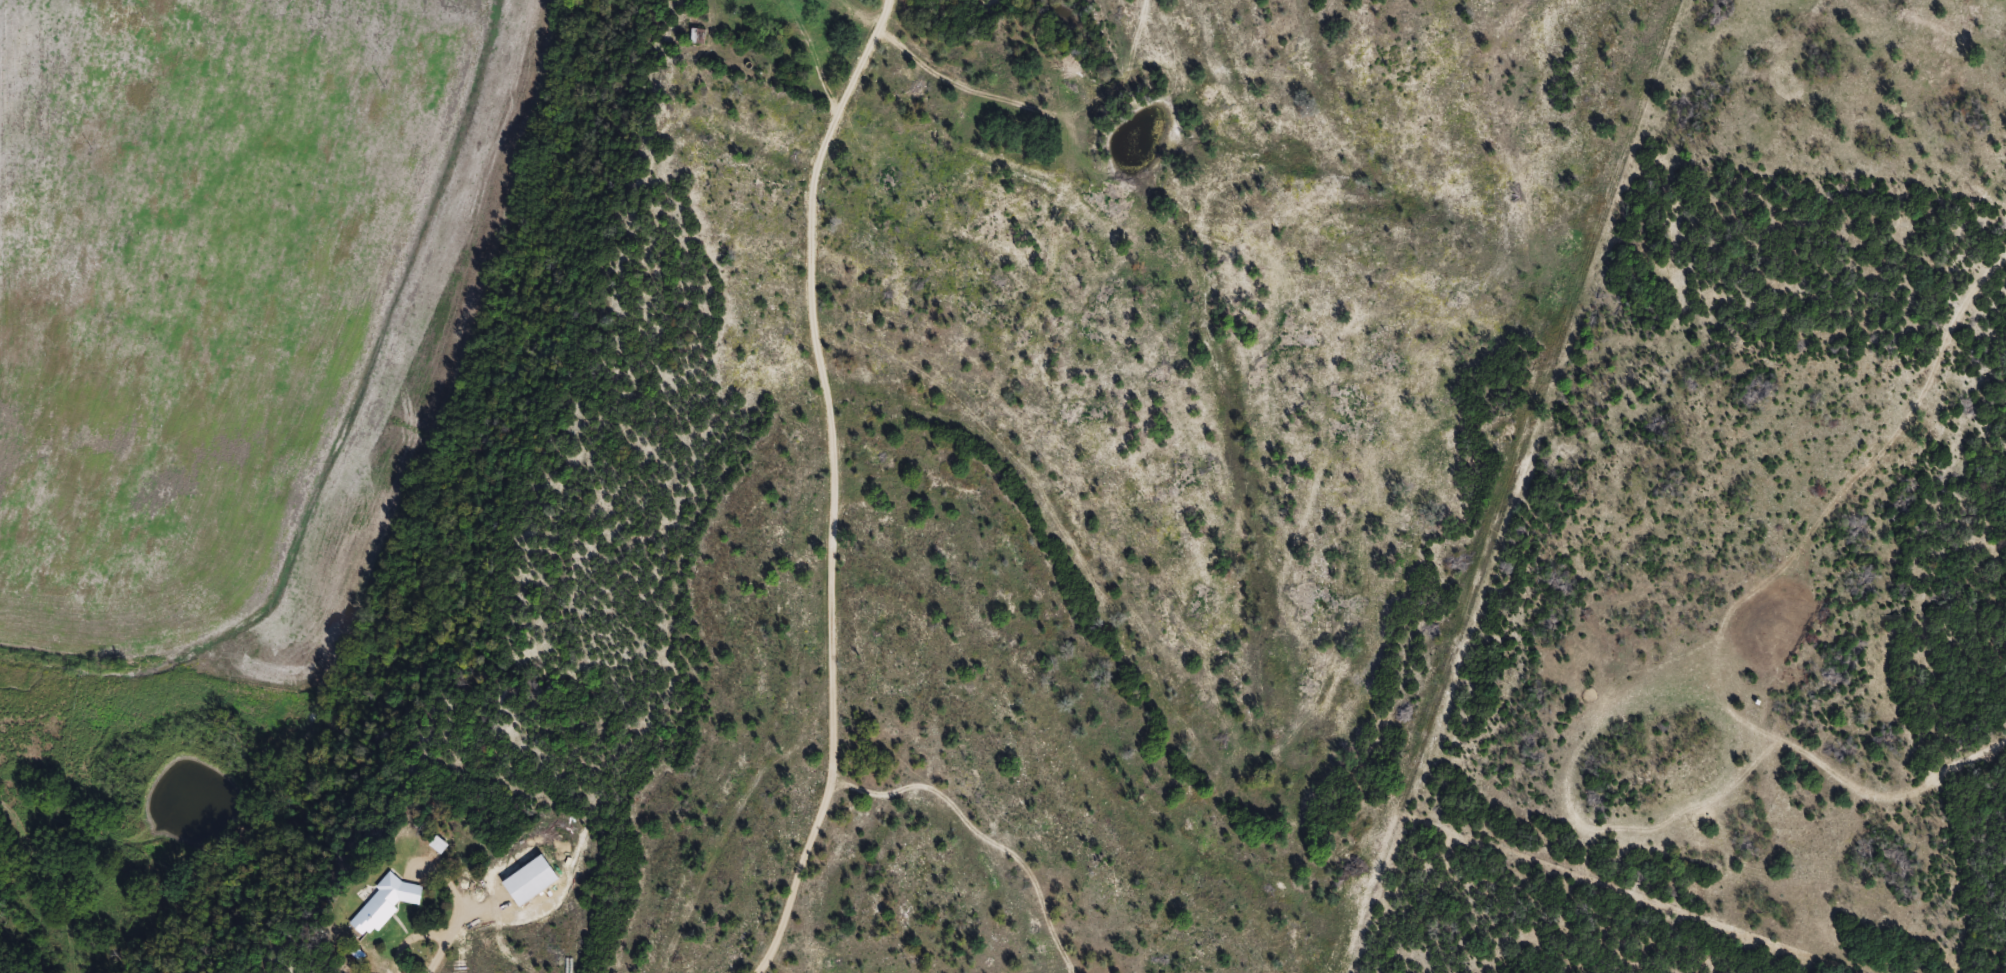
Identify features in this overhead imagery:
building: (384, 902)

